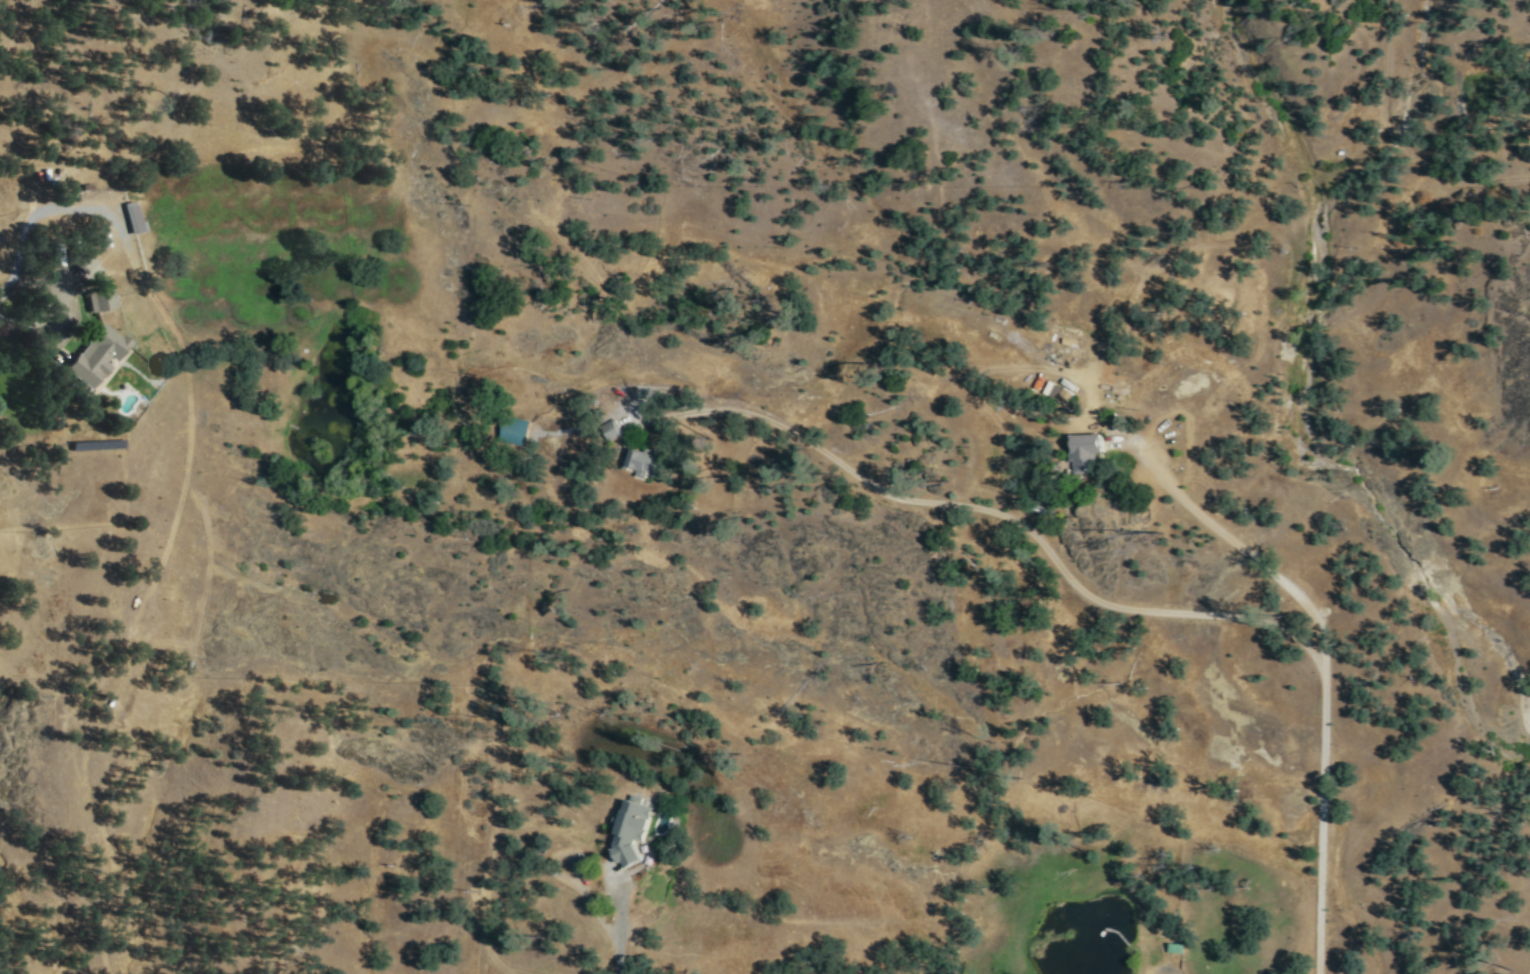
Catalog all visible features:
road: (1401, 143)
building: (132, 215)
building: (83, 259)
building: (99, 298)
road: (62, 307)
road: (168, 322)
building: (96, 353)
building: (516, 430)
building: (1080, 449)
building: (644, 461)
road: (940, 502)
road: (1233, 540)
road: (1321, 823)
building: (631, 832)
road: (618, 924)
road: (1162, 969)

